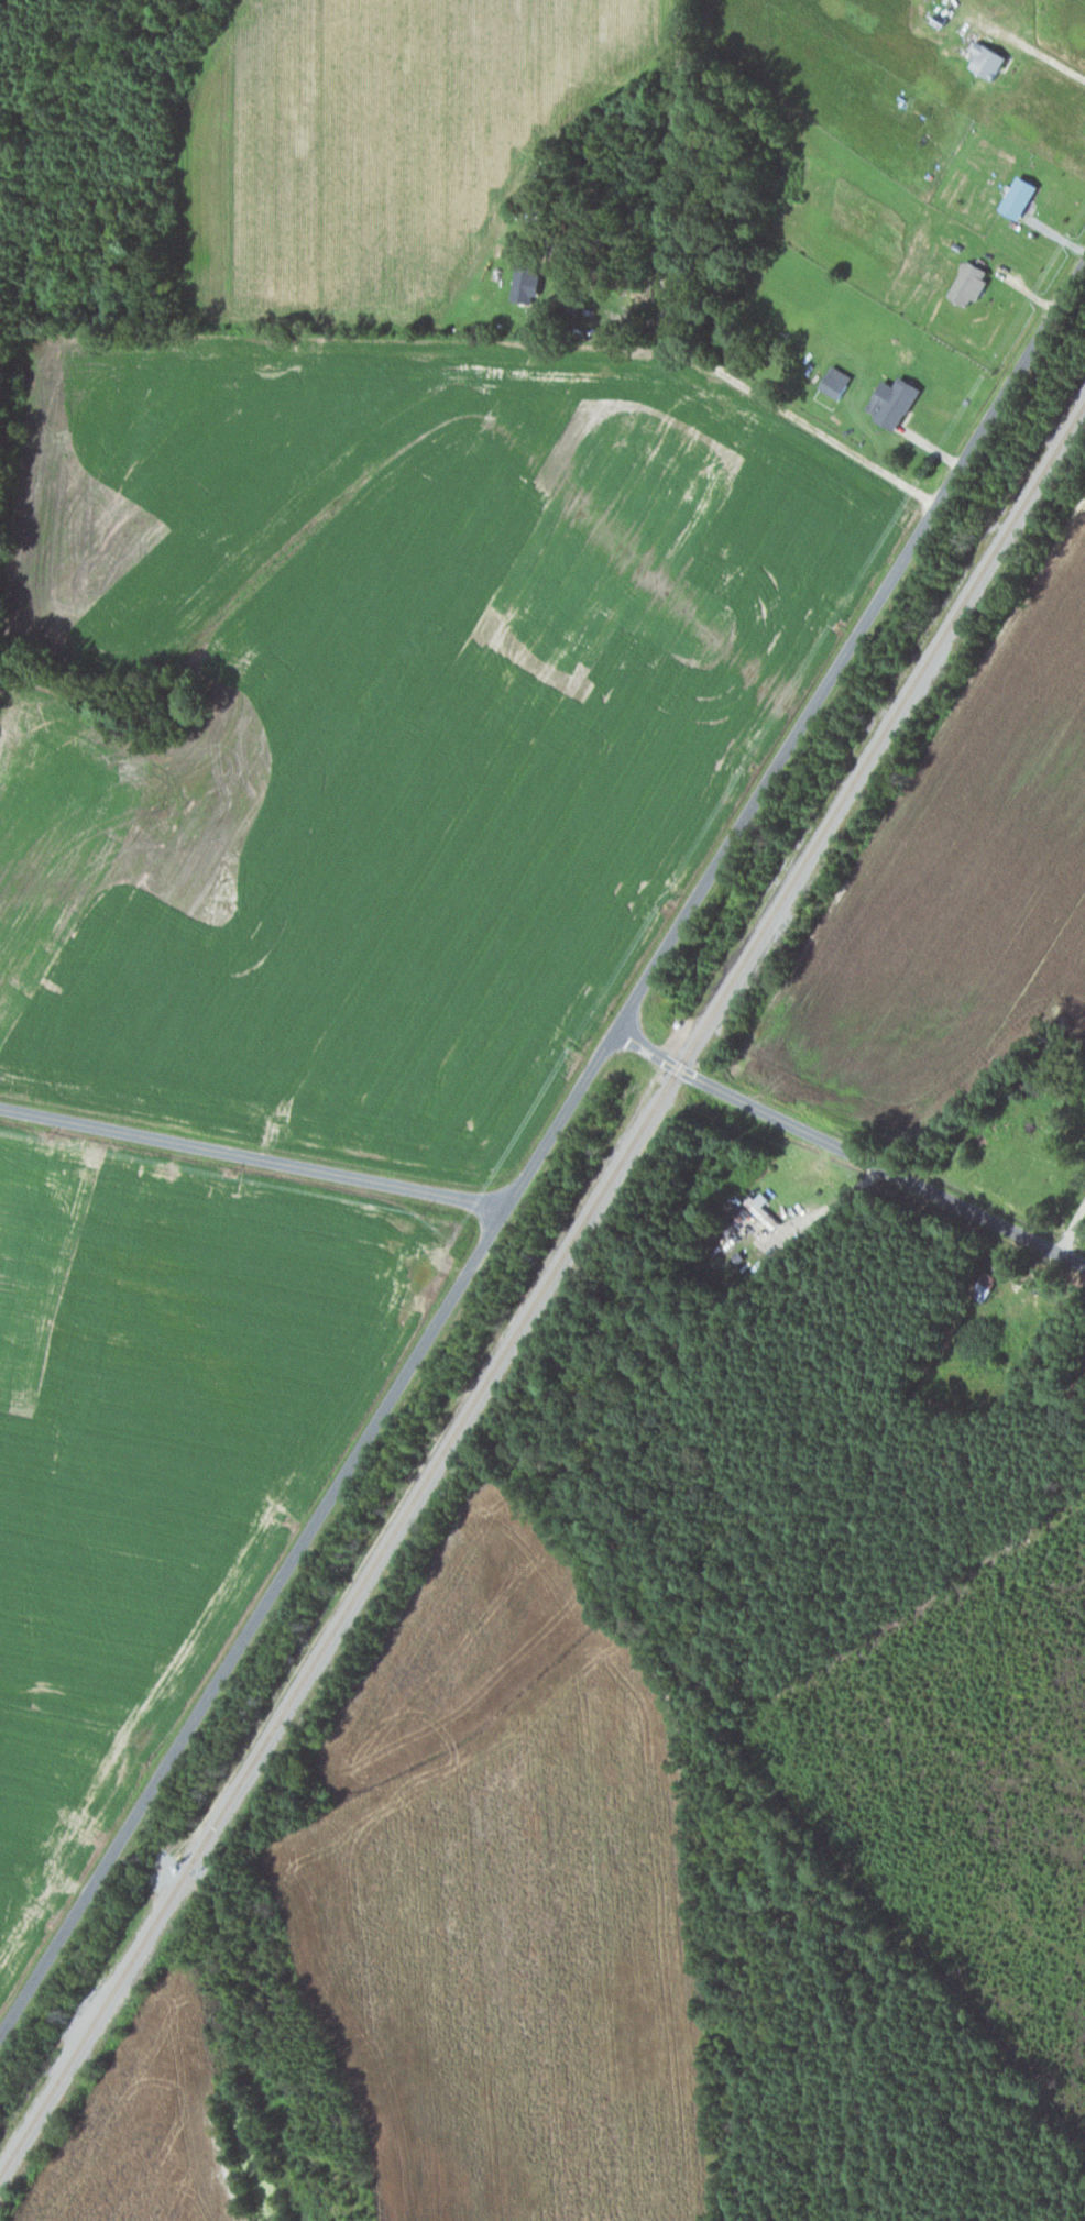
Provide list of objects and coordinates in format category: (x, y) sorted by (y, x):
road: (1042, 54)
building: (980, 59)
building: (1013, 197)
building: (527, 282)
building: (964, 283)
building: (831, 380)
building: (888, 400)
road: (540, 1147)
road: (846, 1148)
road: (252, 1155)
building: (760, 1209)
road: (1071, 1225)
railway: (541, 1288)

